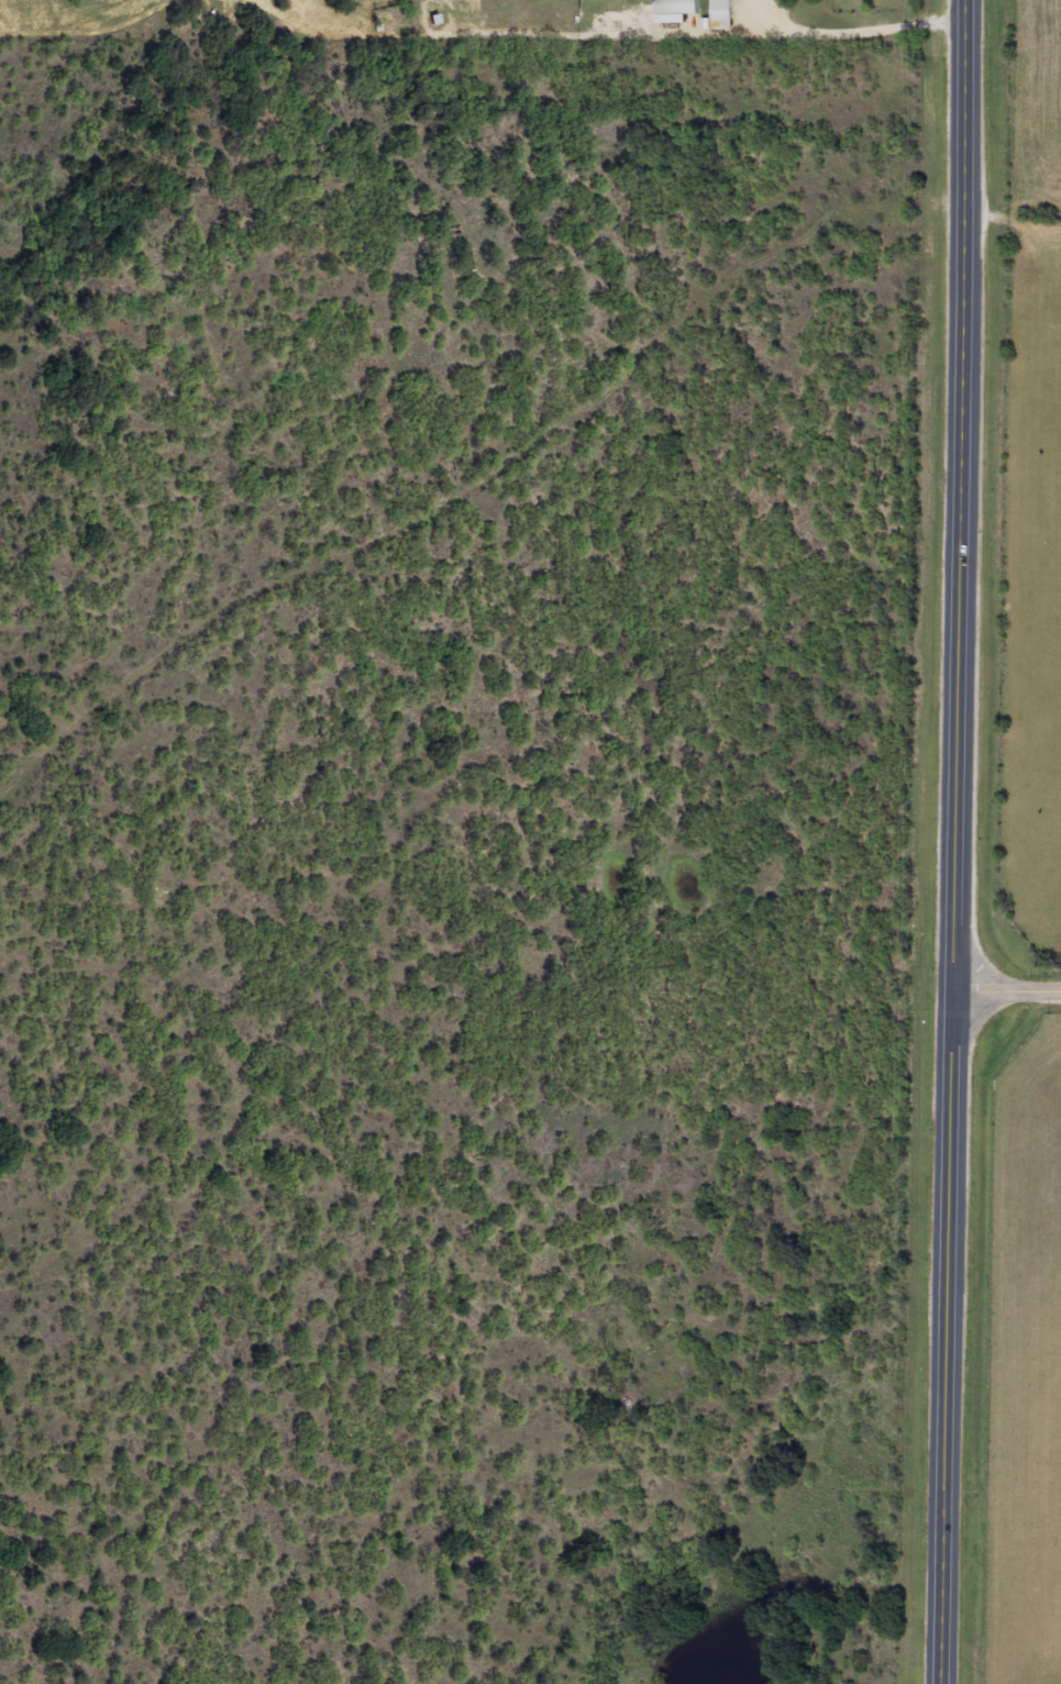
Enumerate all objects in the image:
building: (679, 7)
building: (723, 14)
road: (60, 128)
road: (960, 495)
road: (482, 509)
road: (1007, 989)
road: (497, 1184)
road: (948, 1337)
road: (583, 1482)

